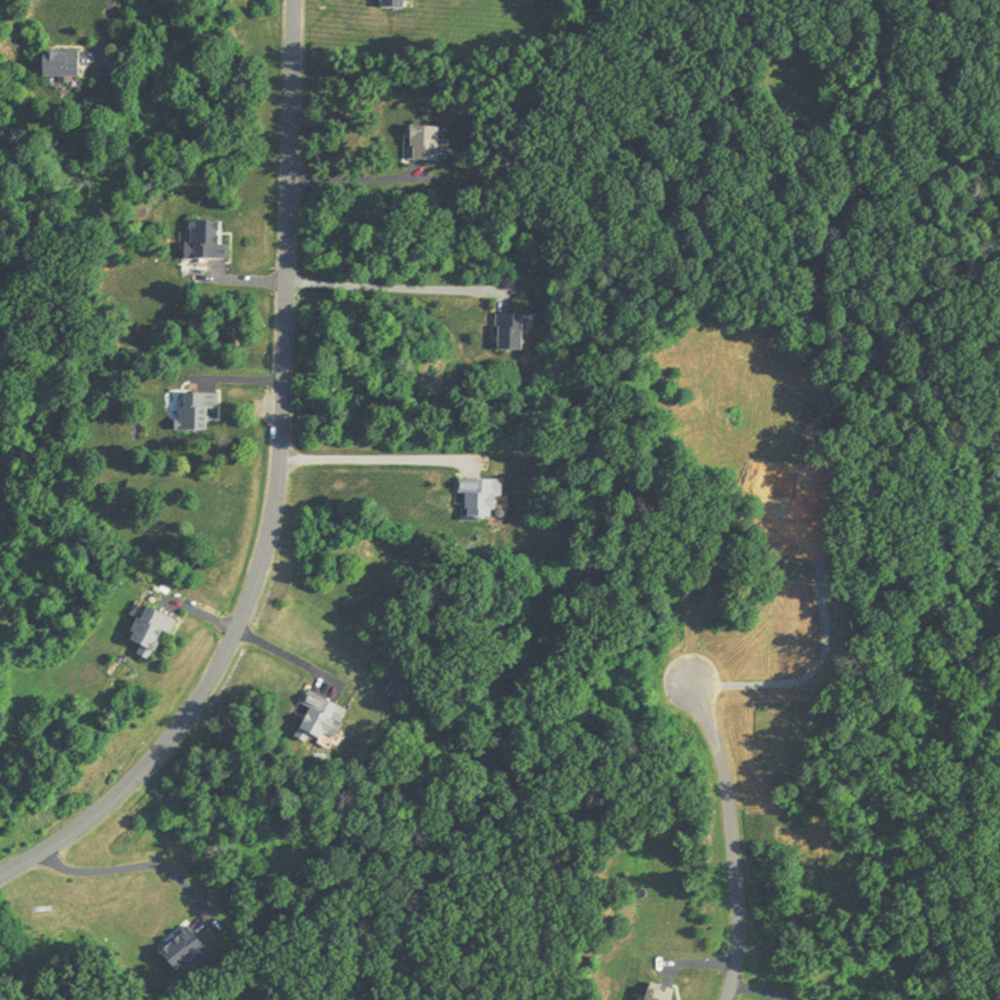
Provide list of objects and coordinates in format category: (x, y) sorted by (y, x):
building: (391, 5)
road: (112, 34)
building: (59, 65)
building: (421, 146)
road: (353, 181)
building: (204, 244)
road: (393, 288)
building: (509, 335)
building: (195, 412)
road: (373, 461)
road: (745, 478)
road: (275, 491)
building: (479, 502)
building: (151, 634)
road: (287, 658)
building: (320, 722)
road: (730, 840)
road: (122, 871)
building: (181, 952)
building: (659, 993)

